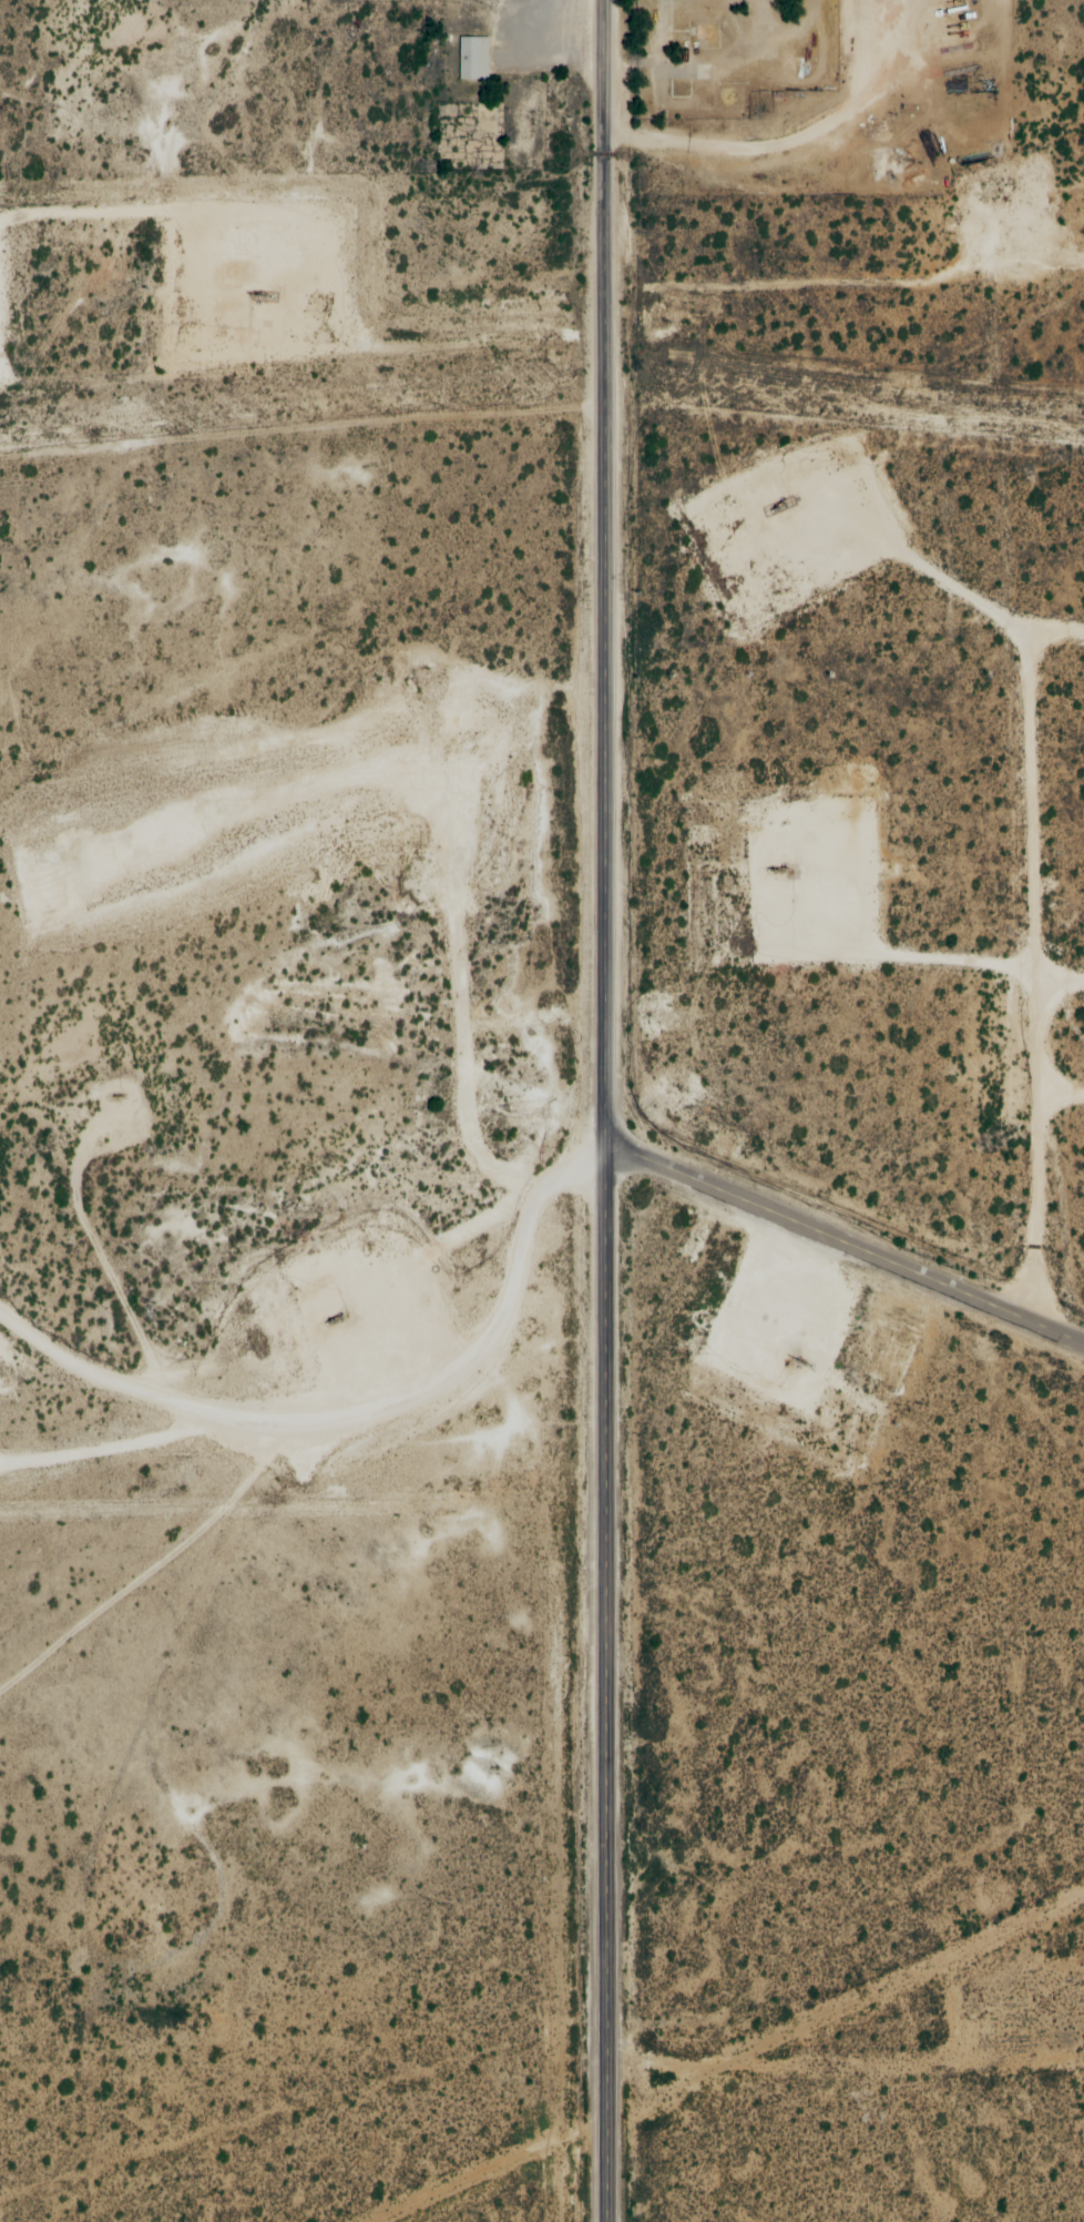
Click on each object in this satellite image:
road: (475, 16)
road: (846, 268)
road: (605, 1110)
road: (299, 1217)
road: (840, 1242)
road: (181, 1450)
road: (805, 2066)

